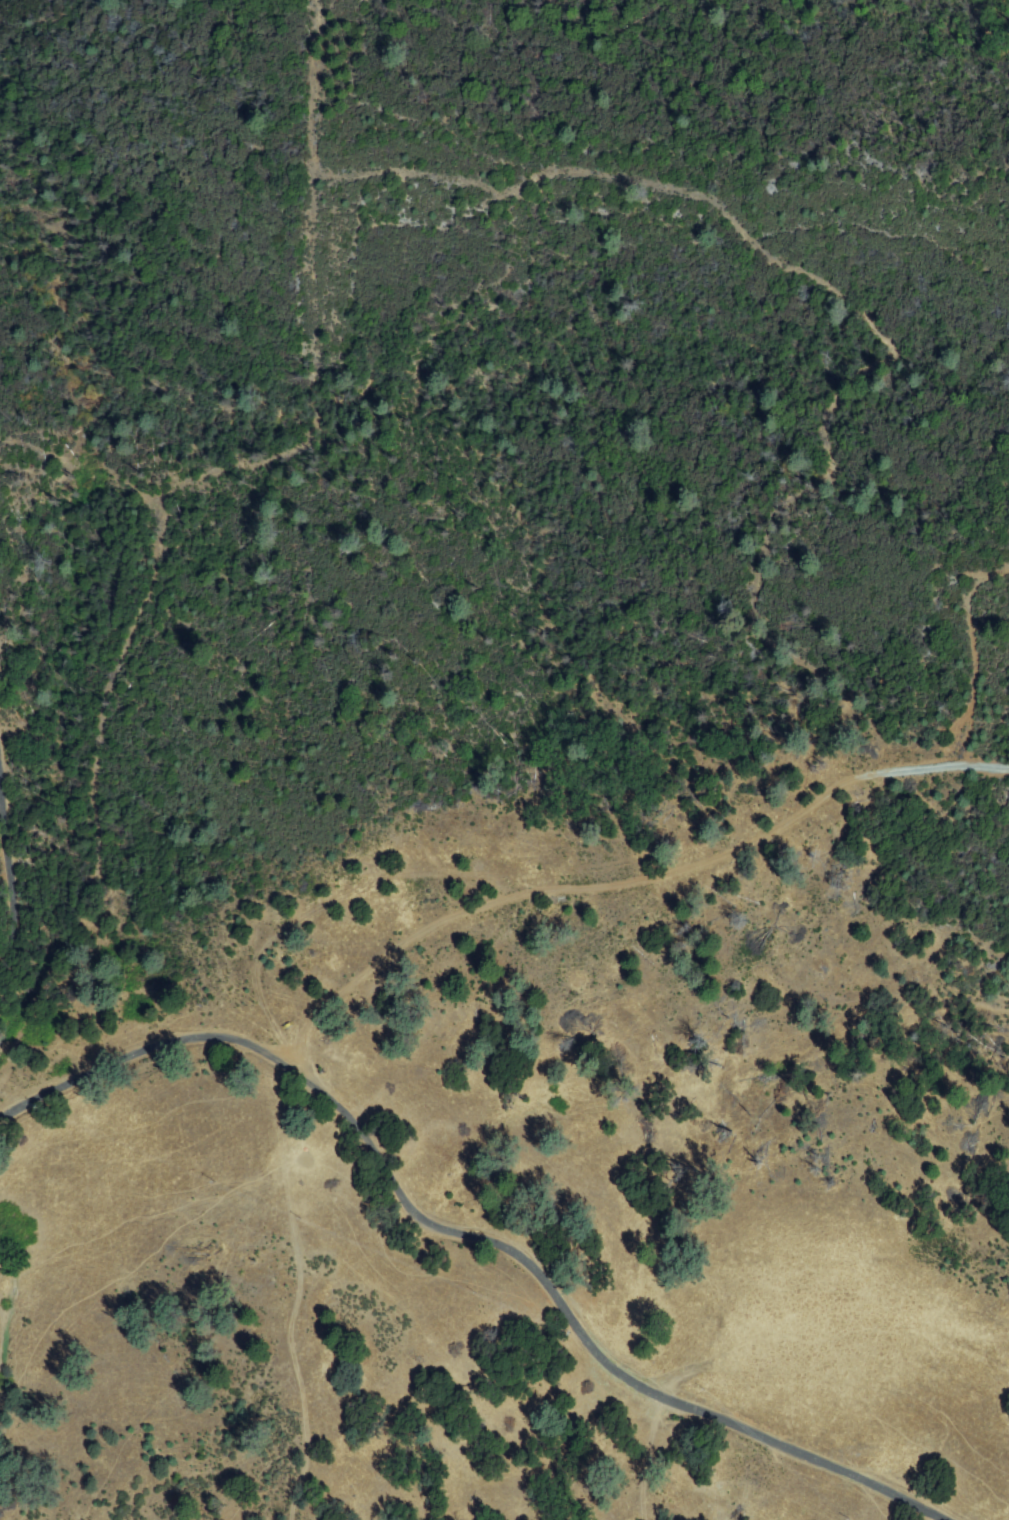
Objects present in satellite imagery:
road: (14, 859)
road: (709, 861)
road: (470, 1234)

